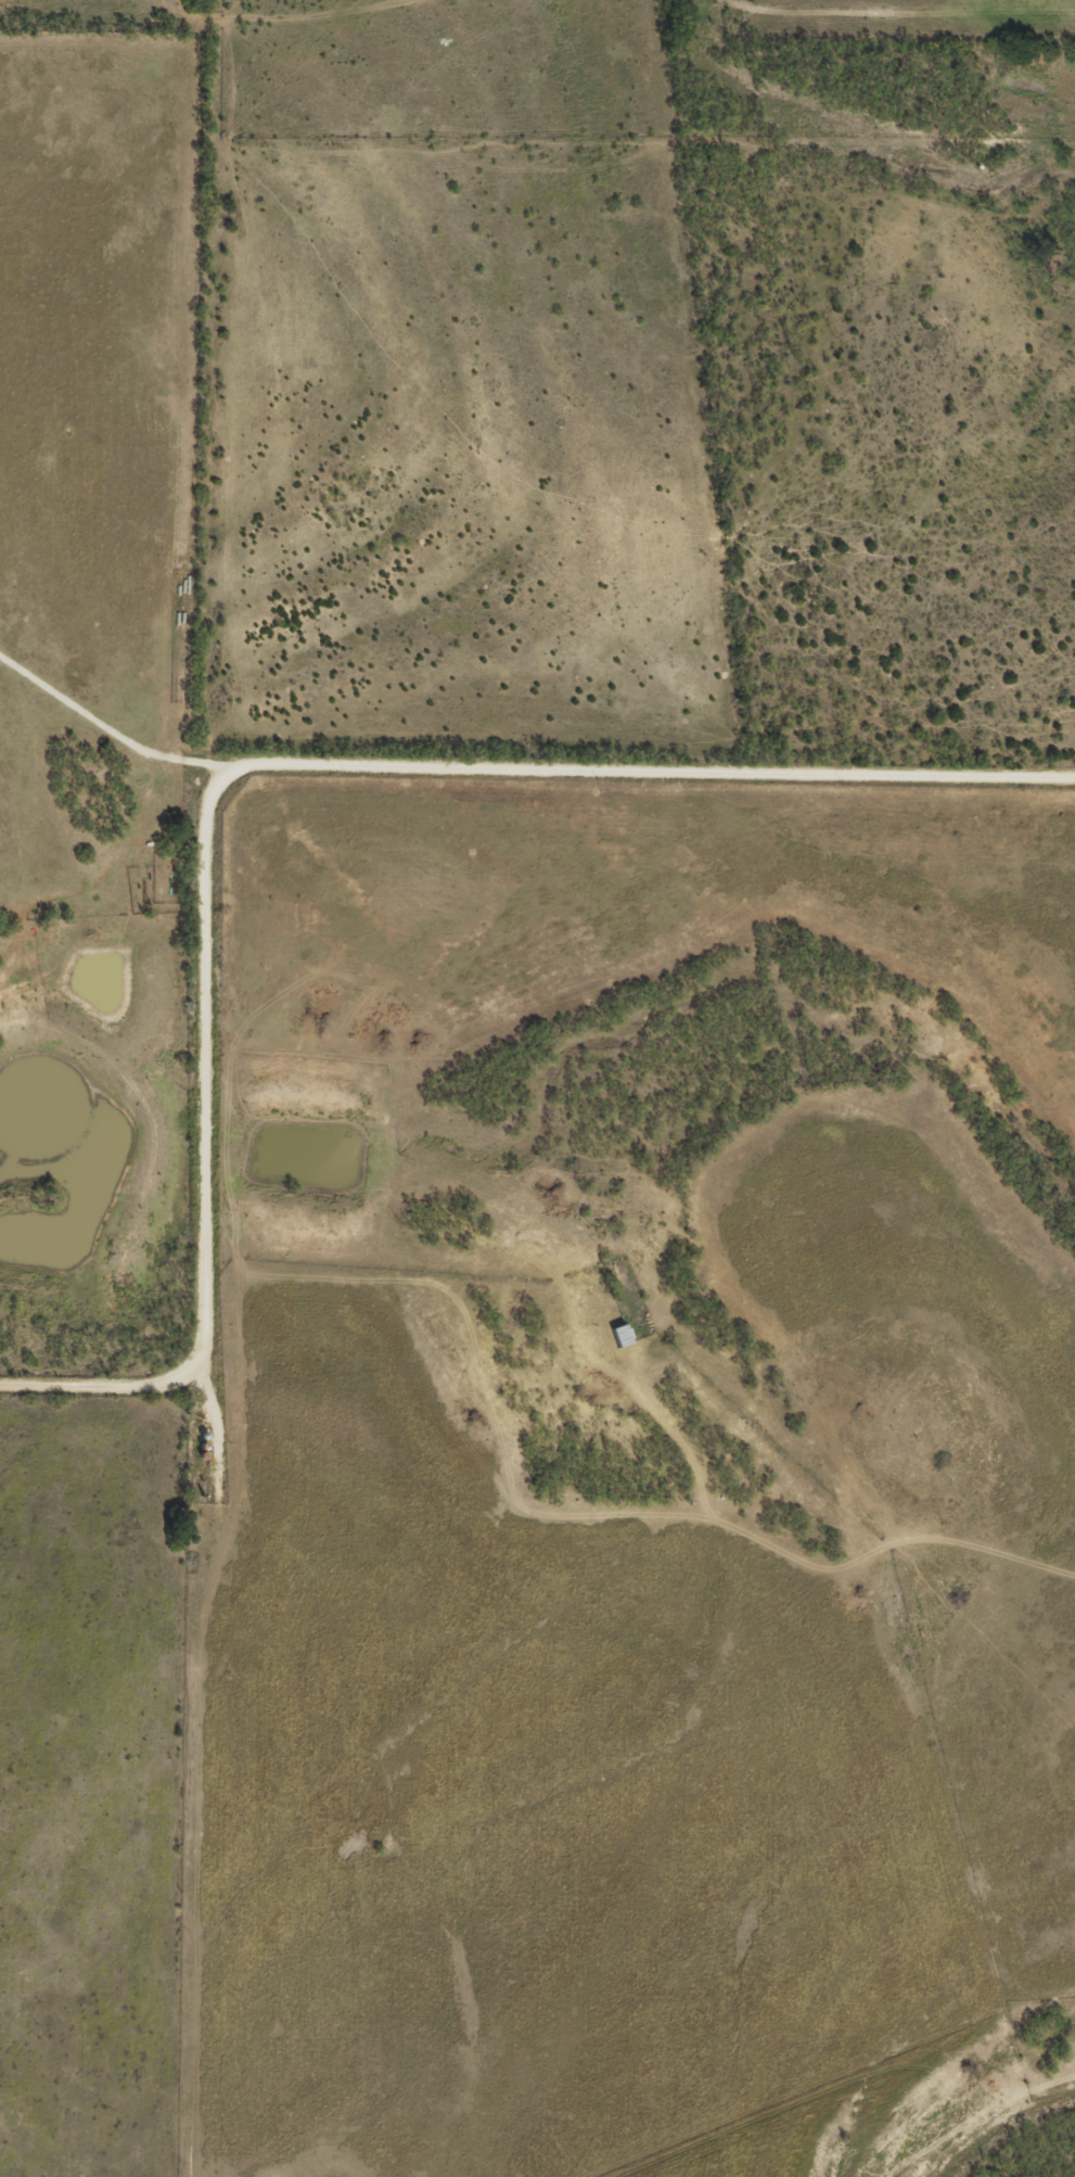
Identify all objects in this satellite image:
road: (108, 739)
road: (248, 774)
road: (607, 1526)

